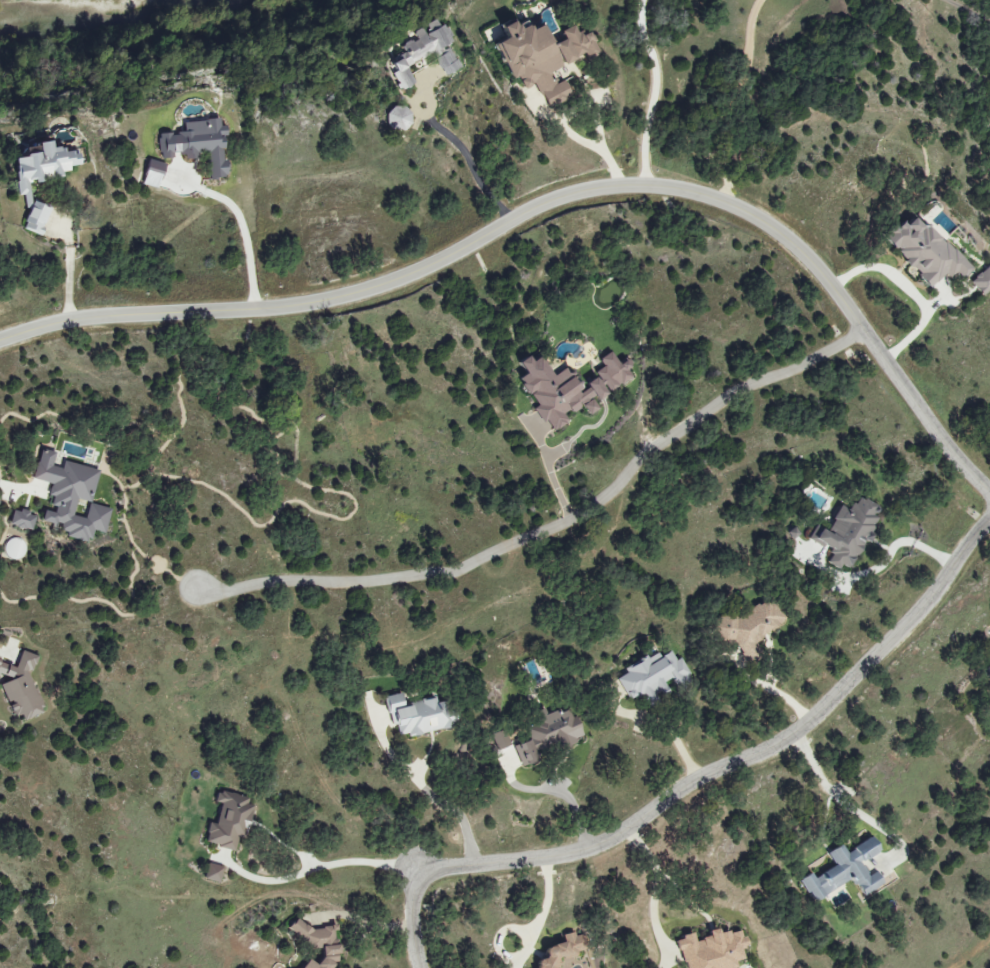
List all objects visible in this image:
river: (114, 10)
road: (967, 12)
building: (420, 49)
building: (544, 56)
building: (448, 62)
road: (649, 93)
road: (740, 98)
building: (400, 117)
road: (584, 143)
building: (199, 144)
road: (471, 158)
building: (153, 174)
building: (41, 177)
road: (552, 200)
road: (247, 233)
building: (927, 251)
building: (982, 280)
road: (912, 287)
building: (570, 387)
road: (553, 465)
road: (10, 487)
building: (72, 498)
building: (22, 519)
road: (555, 519)
building: (847, 532)
road: (884, 556)
building: (749, 628)
building: (989, 672)
building: (653, 677)
building: (21, 687)
road: (770, 693)
building: (420, 716)
building: (549, 735)
road: (691, 784)
road: (561, 792)
road: (844, 800)
road: (450, 812)
building: (229, 821)
road: (316, 866)
building: (845, 871)
building: (214, 873)
road: (657, 884)
road: (541, 907)
road: (362, 921)
building: (318, 943)
building: (713, 950)
building: (563, 951)

